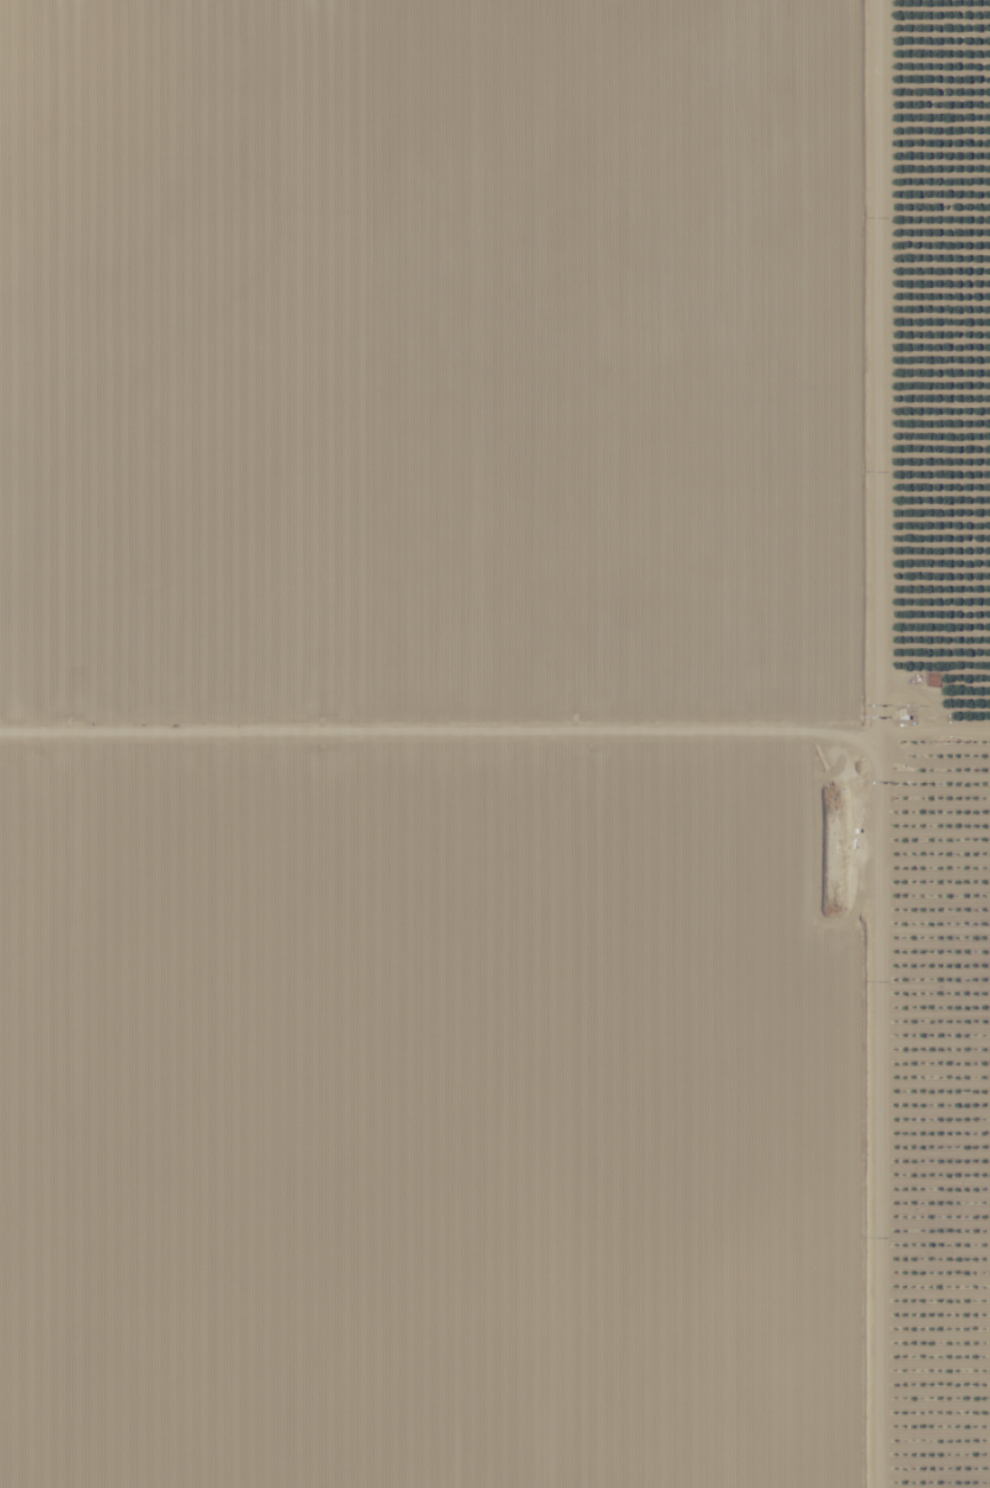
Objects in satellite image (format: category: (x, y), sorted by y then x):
crop: (442, 370)
road: (494, 733)
road: (872, 744)
crop: (442, 1115)

